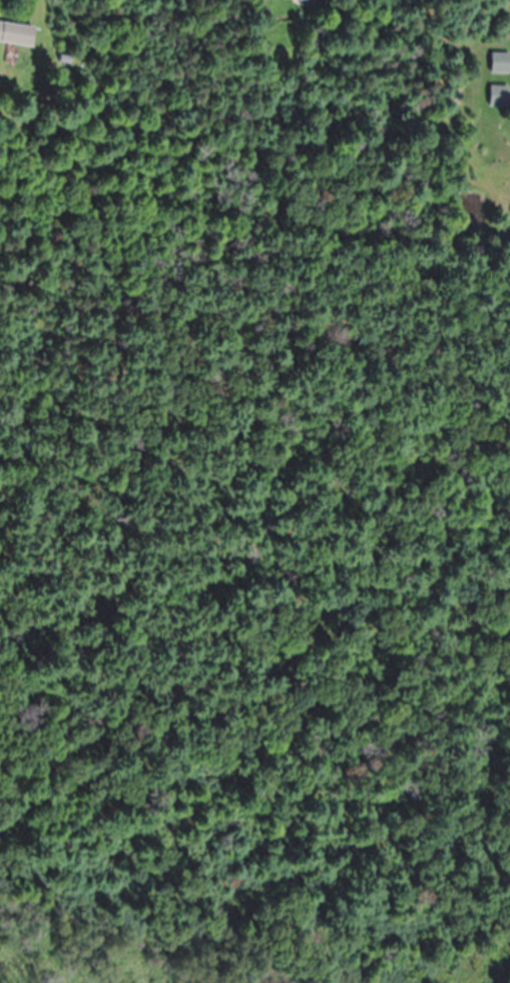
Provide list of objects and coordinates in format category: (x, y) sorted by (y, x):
building: (285, 0)
building: (16, 34)
building: (500, 63)
building: (499, 97)

